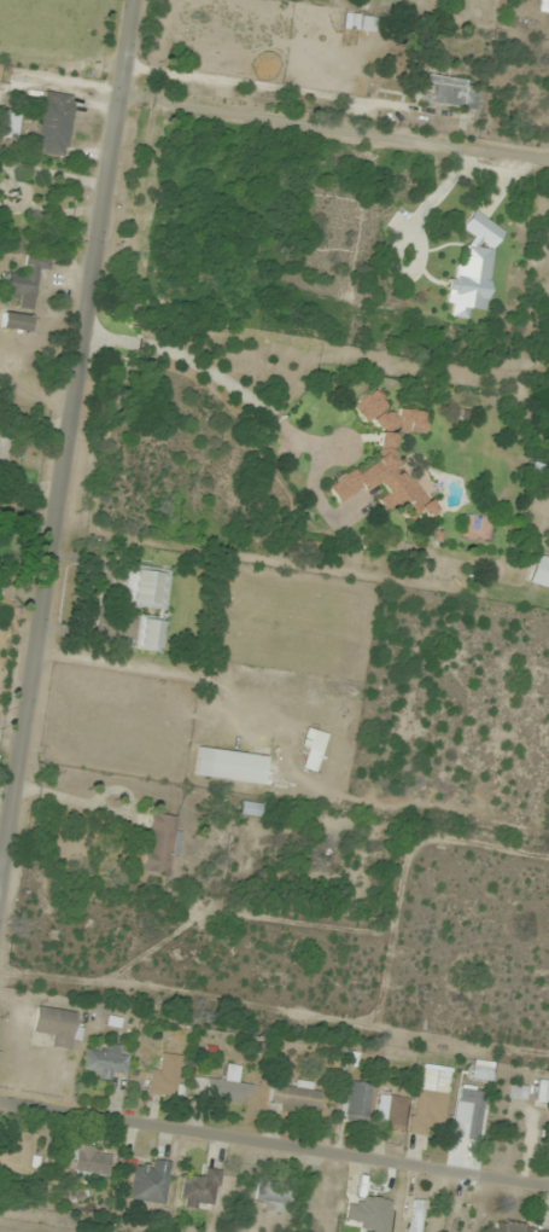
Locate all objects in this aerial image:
building: (543, 6)
building: (368, 24)
road: (296, 92)
building: (452, 94)
building: (57, 124)
road: (334, 124)
building: (527, 219)
building: (24, 284)
building: (16, 322)
road: (221, 384)
building: (386, 461)
road: (69, 501)
road: (306, 565)
building: (541, 570)
building: (147, 588)
building: (148, 634)
building: (313, 748)
building: (229, 766)
building: (250, 809)
building: (160, 845)
building: (56, 1027)
building: (105, 1060)
building: (483, 1070)
building: (167, 1076)
building: (228, 1088)
building: (296, 1097)
building: (431, 1099)
building: (358, 1102)
building: (468, 1114)
road: (274, 1138)
building: (21, 1155)
building: (88, 1160)
building: (151, 1182)
building: (200, 1190)
building: (280, 1193)
building: (370, 1213)
building: (414, 1214)
building: (466, 1219)
building: (514, 1228)

